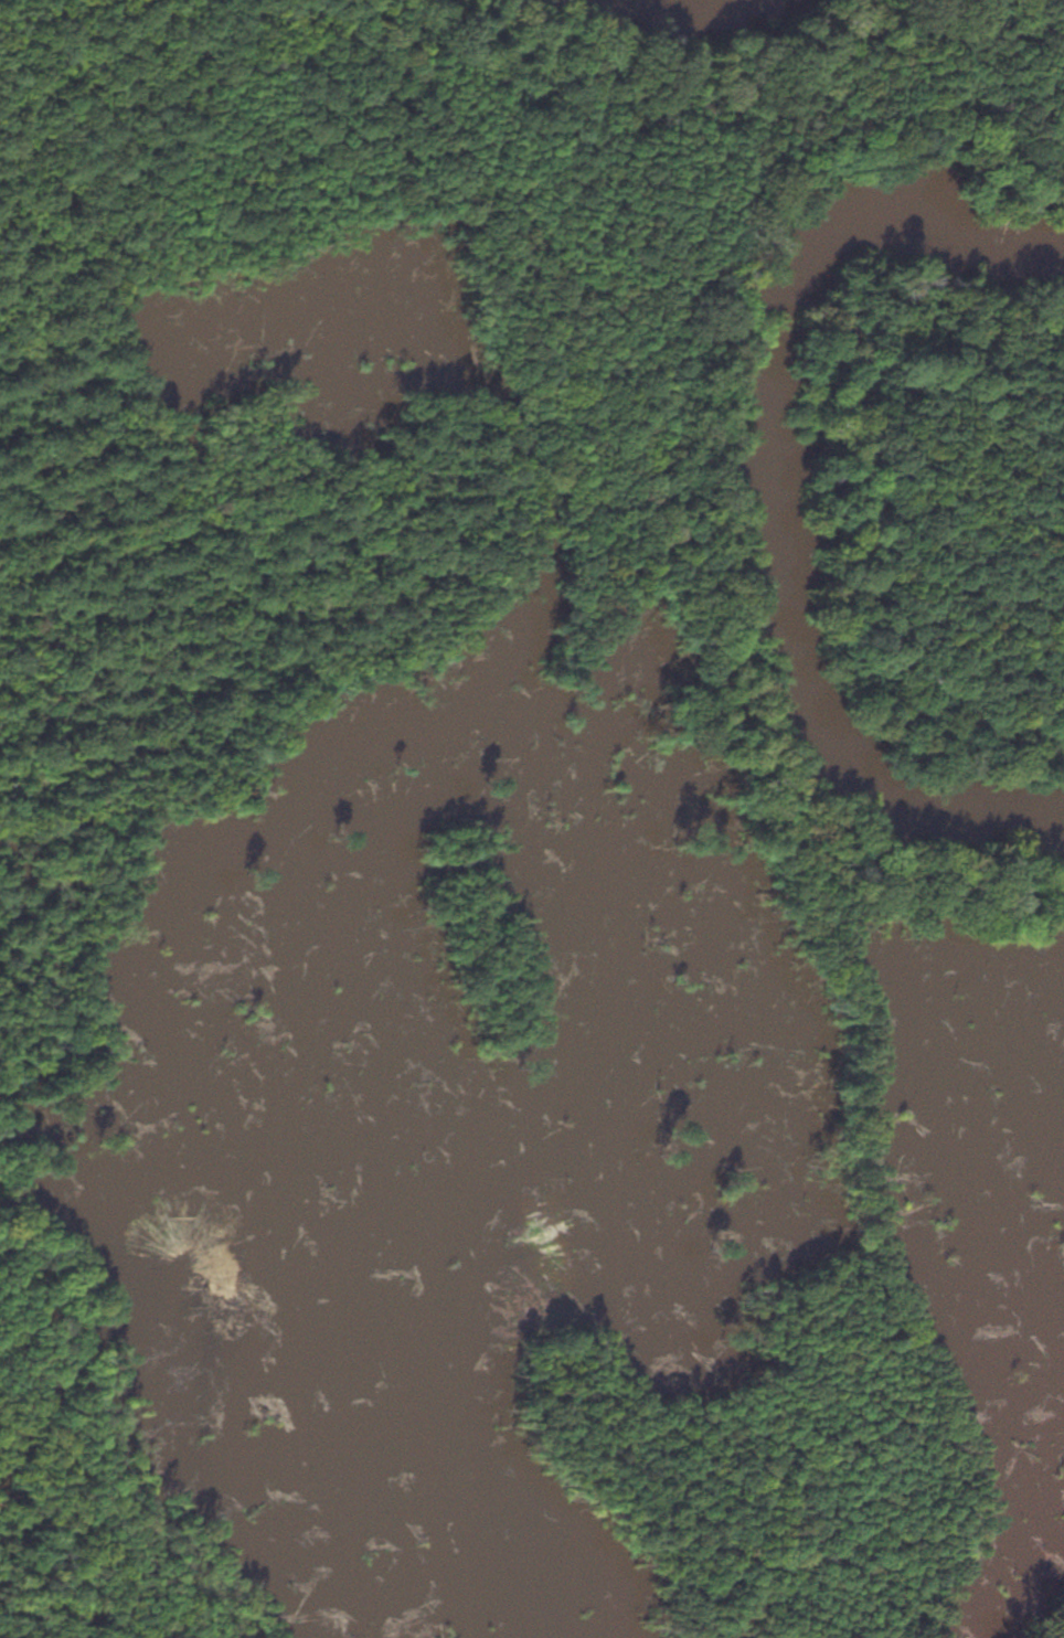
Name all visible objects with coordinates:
river: (779, 476)

